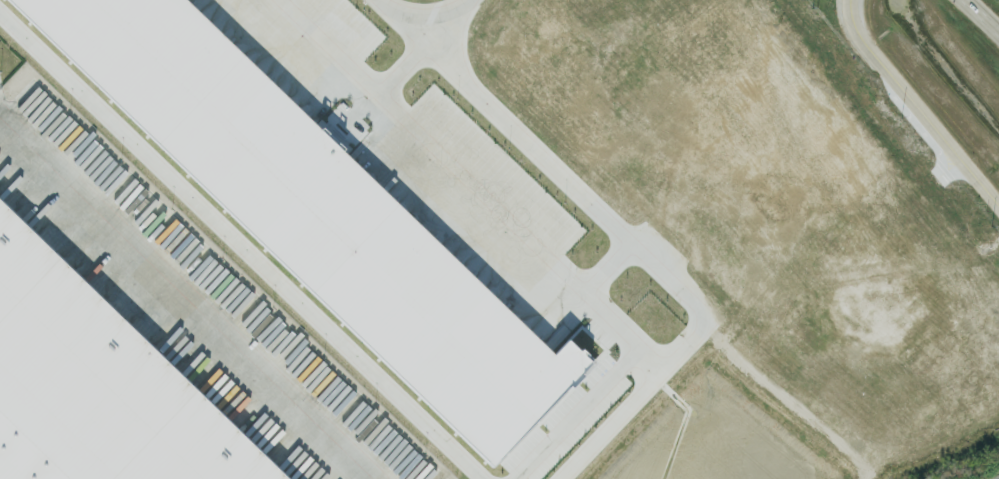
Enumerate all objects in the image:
road: (421, 14)
road: (983, 14)
road: (405, 69)
road: (915, 108)
road: (466, 182)
building: (315, 212)
road: (244, 244)
road: (646, 245)
road: (611, 265)
road: (181, 303)
building: (96, 386)

